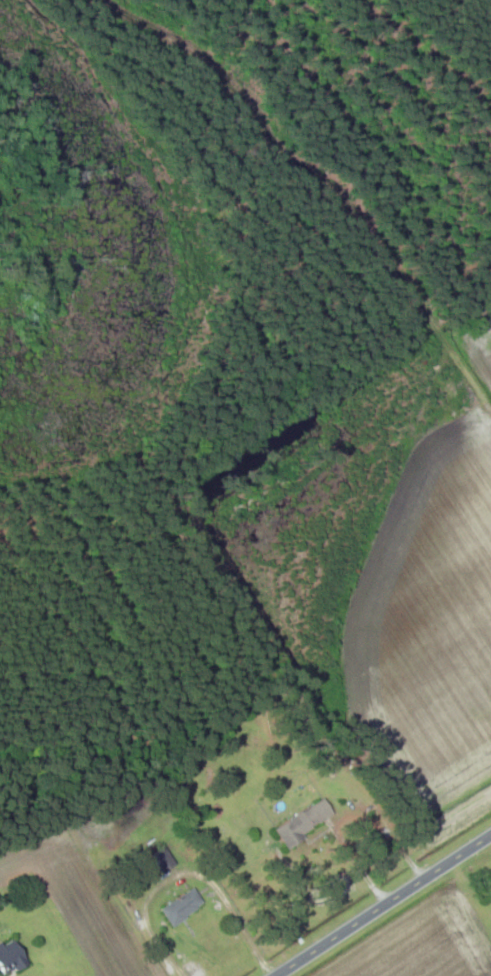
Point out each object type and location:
building: (303, 823)
road: (383, 905)
building: (182, 906)
building: (11, 957)

